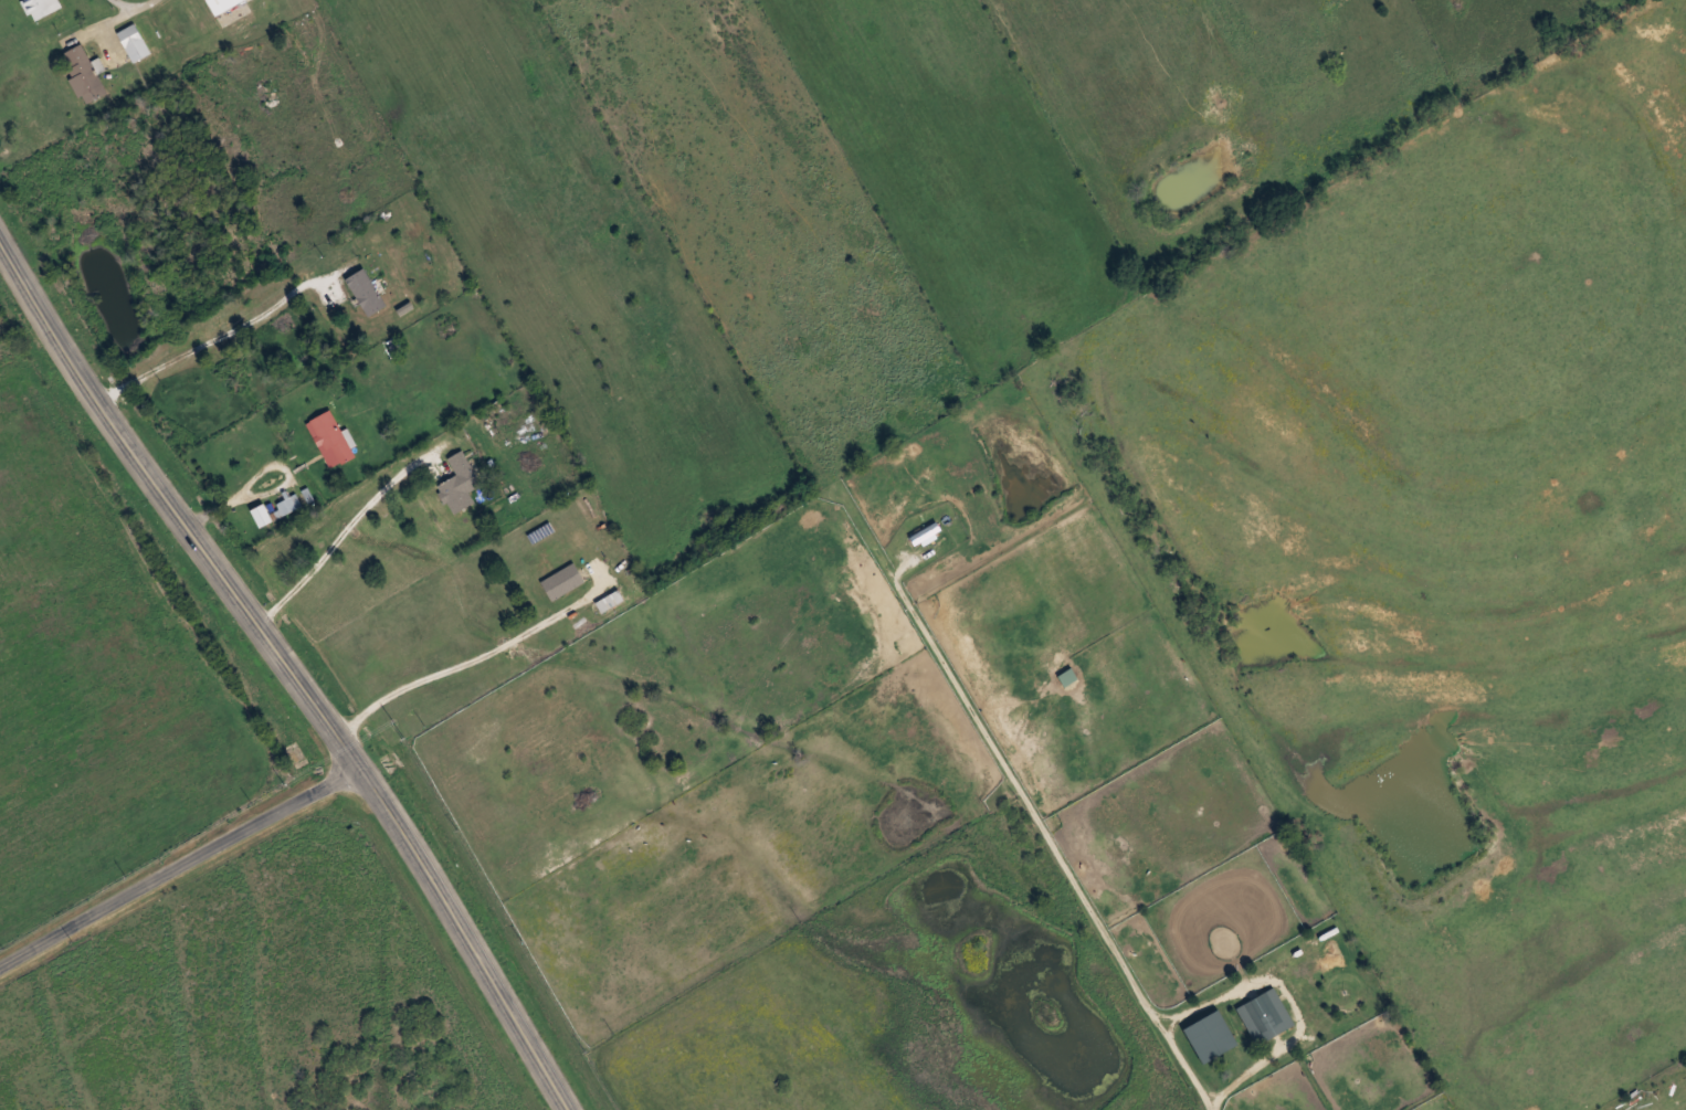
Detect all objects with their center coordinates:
building: (221, 4)
building: (41, 8)
building: (134, 42)
building: (83, 73)
building: (366, 292)
building: (496, 417)
building: (330, 438)
building: (460, 484)
building: (283, 506)
building: (562, 581)
building: (609, 600)
road: (296, 667)
road: (183, 867)
building: (1265, 1015)

